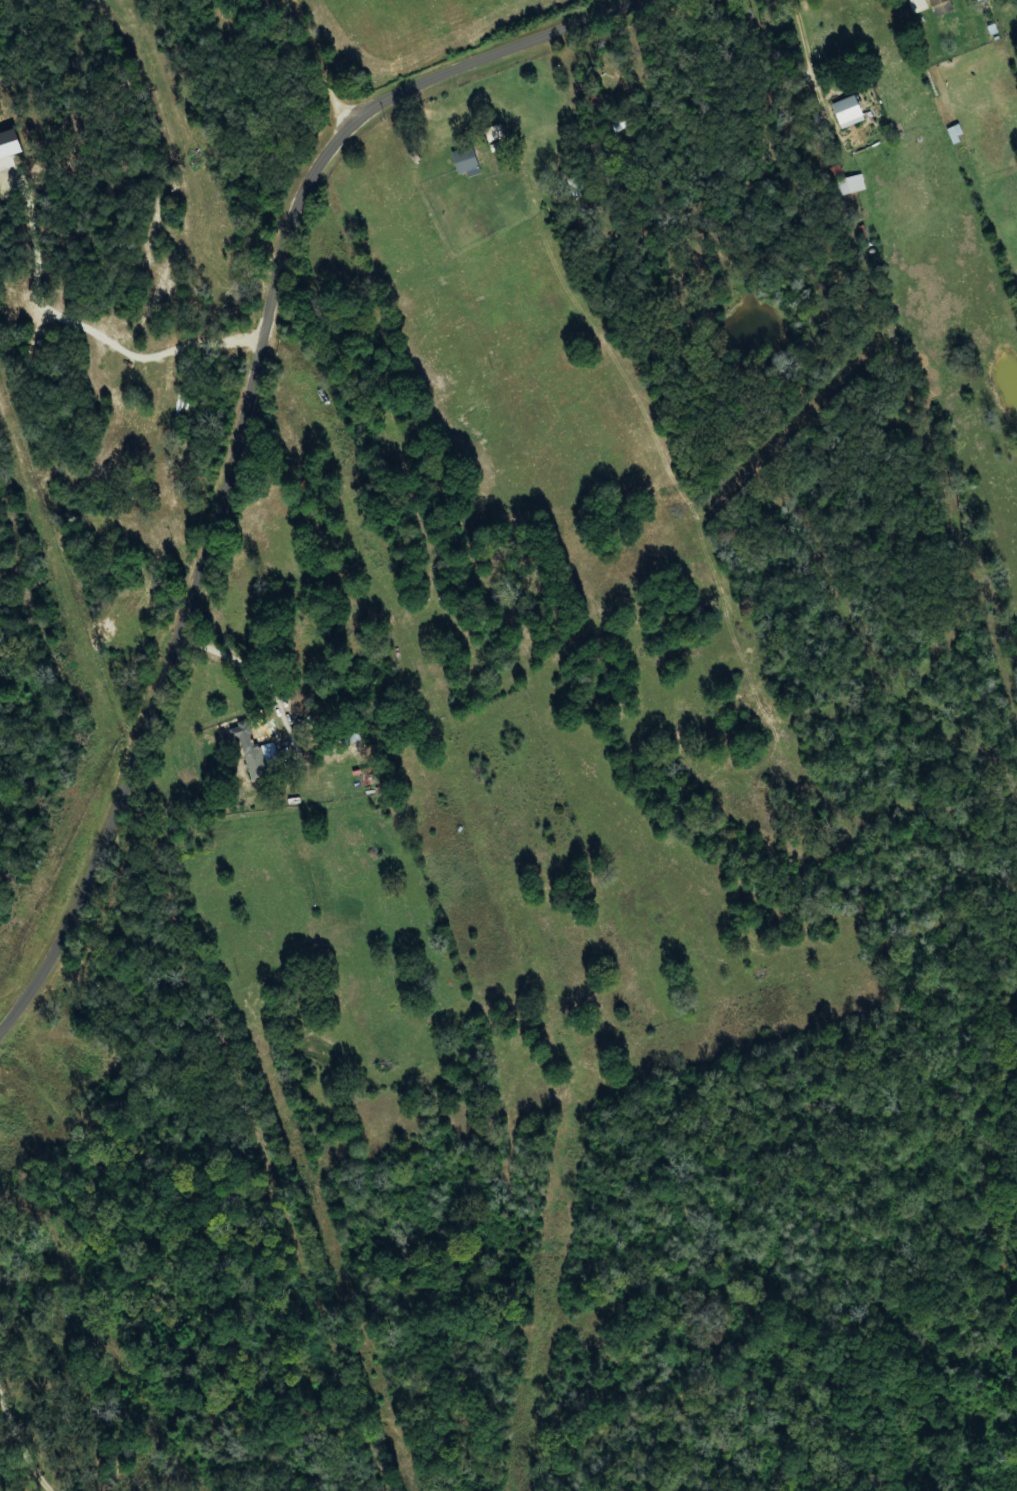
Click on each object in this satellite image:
building: (941, 3)
building: (920, 6)
road: (324, 61)
building: (851, 111)
building: (497, 133)
building: (957, 134)
building: (10, 145)
building: (469, 160)
road: (238, 440)
building: (265, 761)

